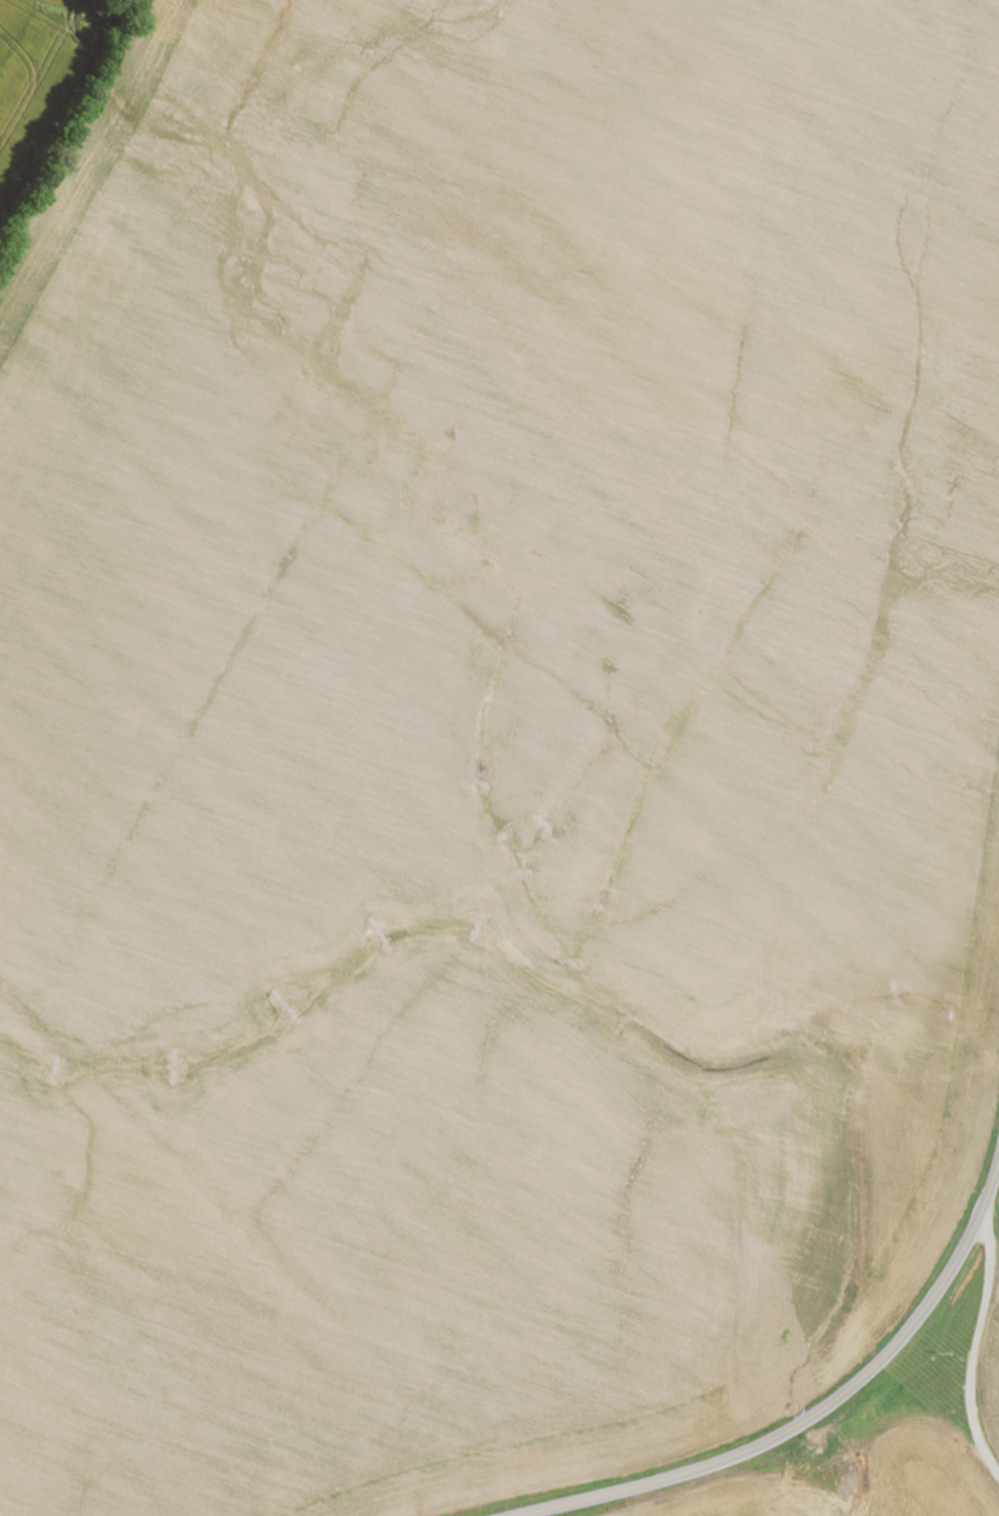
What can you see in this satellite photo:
road: (976, 1342)
road: (819, 1413)

